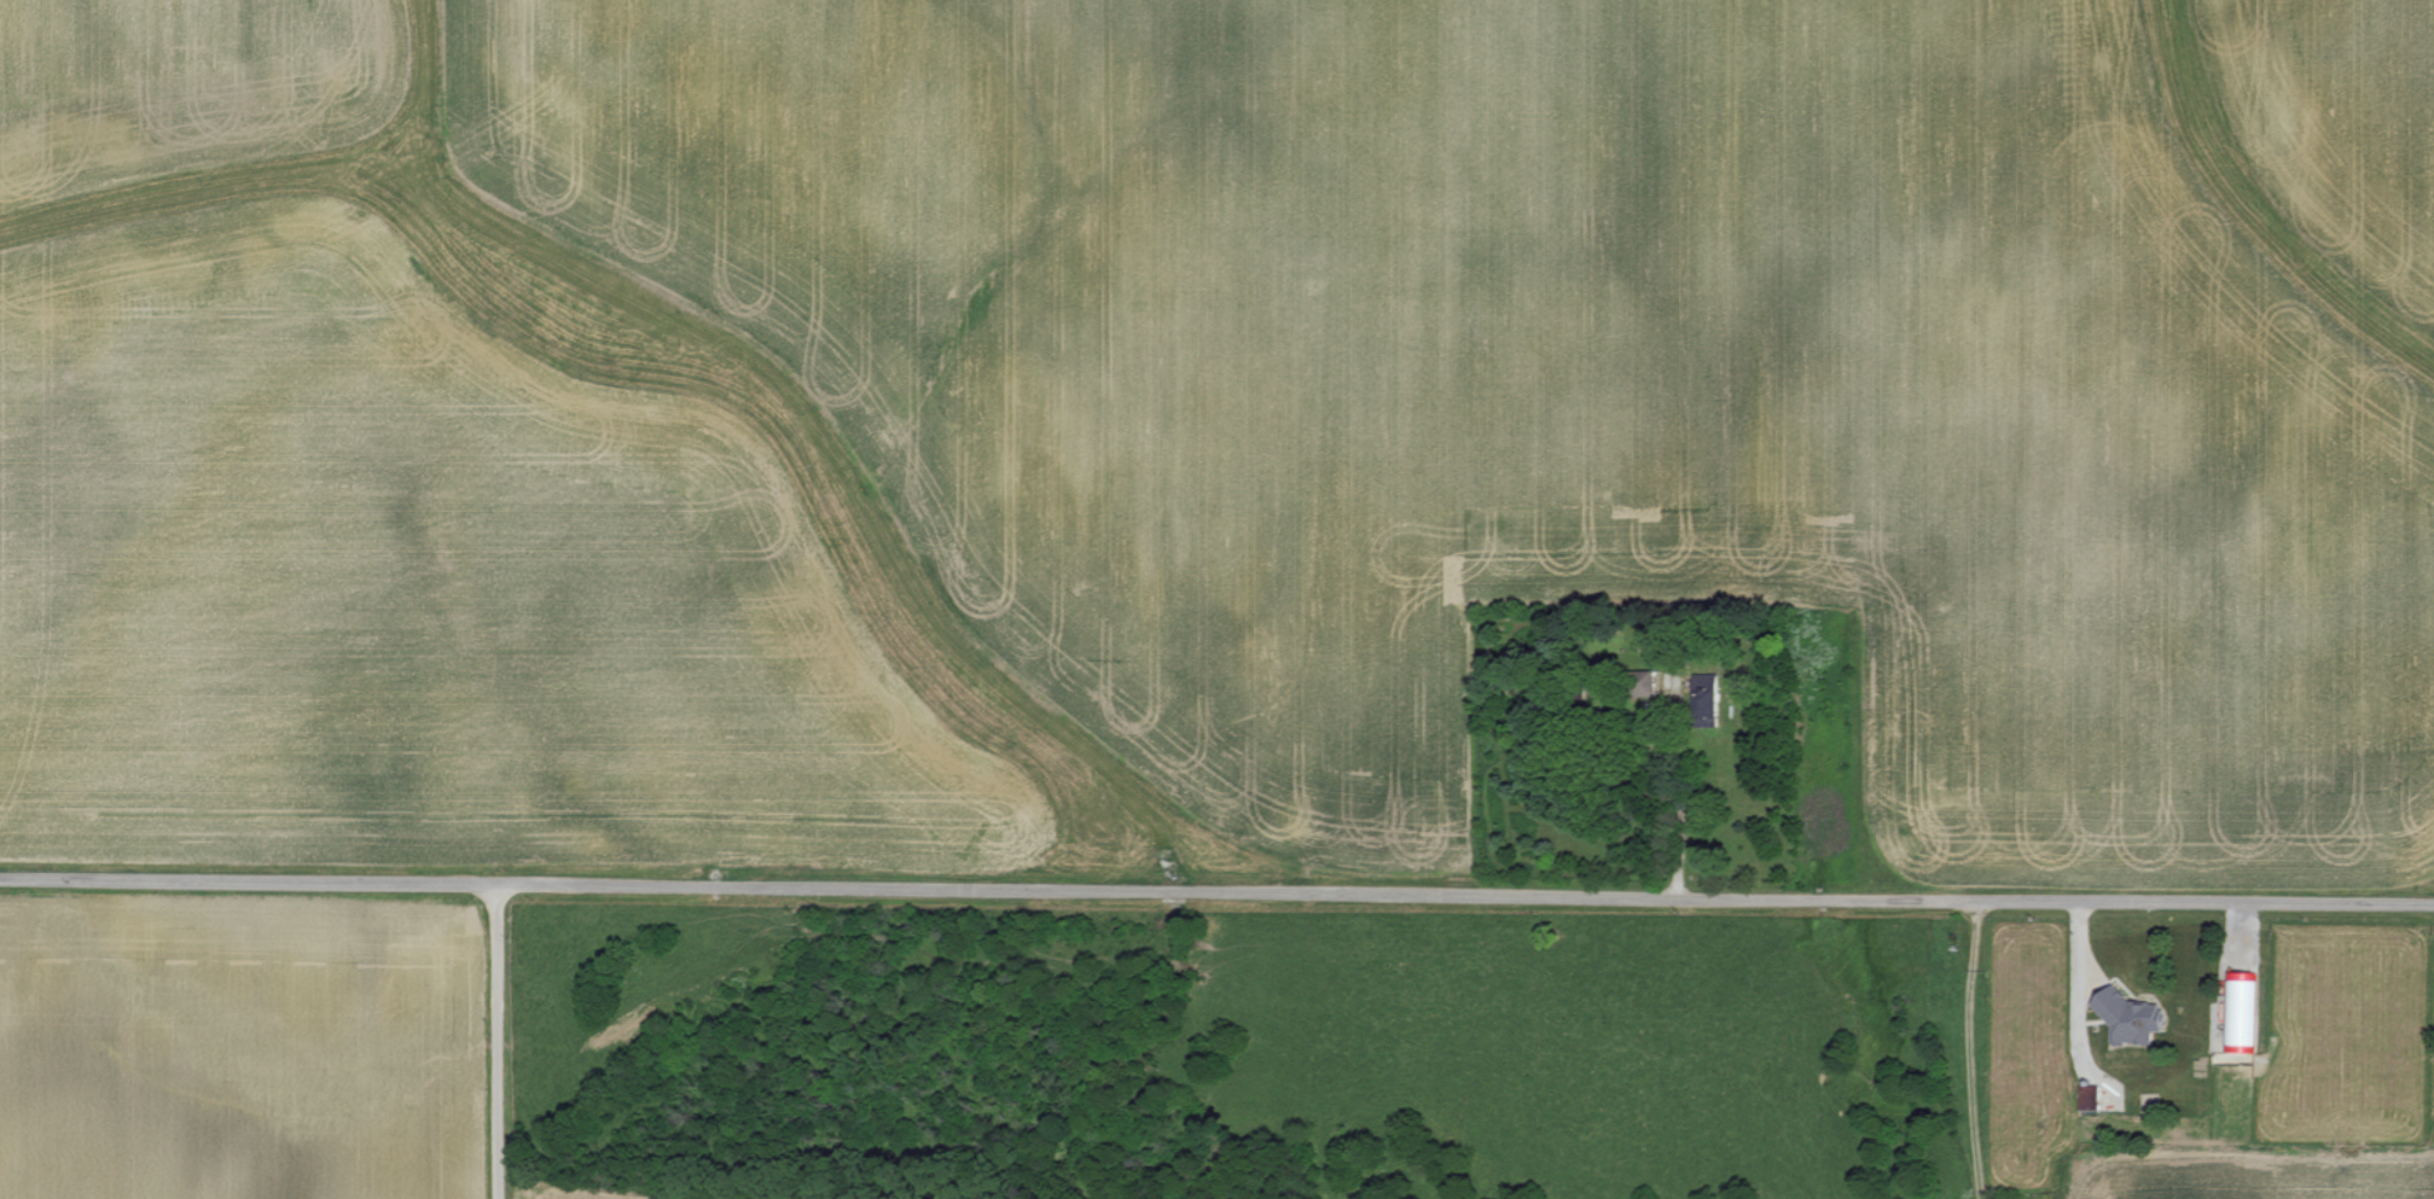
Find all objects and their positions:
road: (1678, 788)
road: (1216, 890)
road: (2076, 995)
building: (2132, 1018)
road: (494, 1041)

